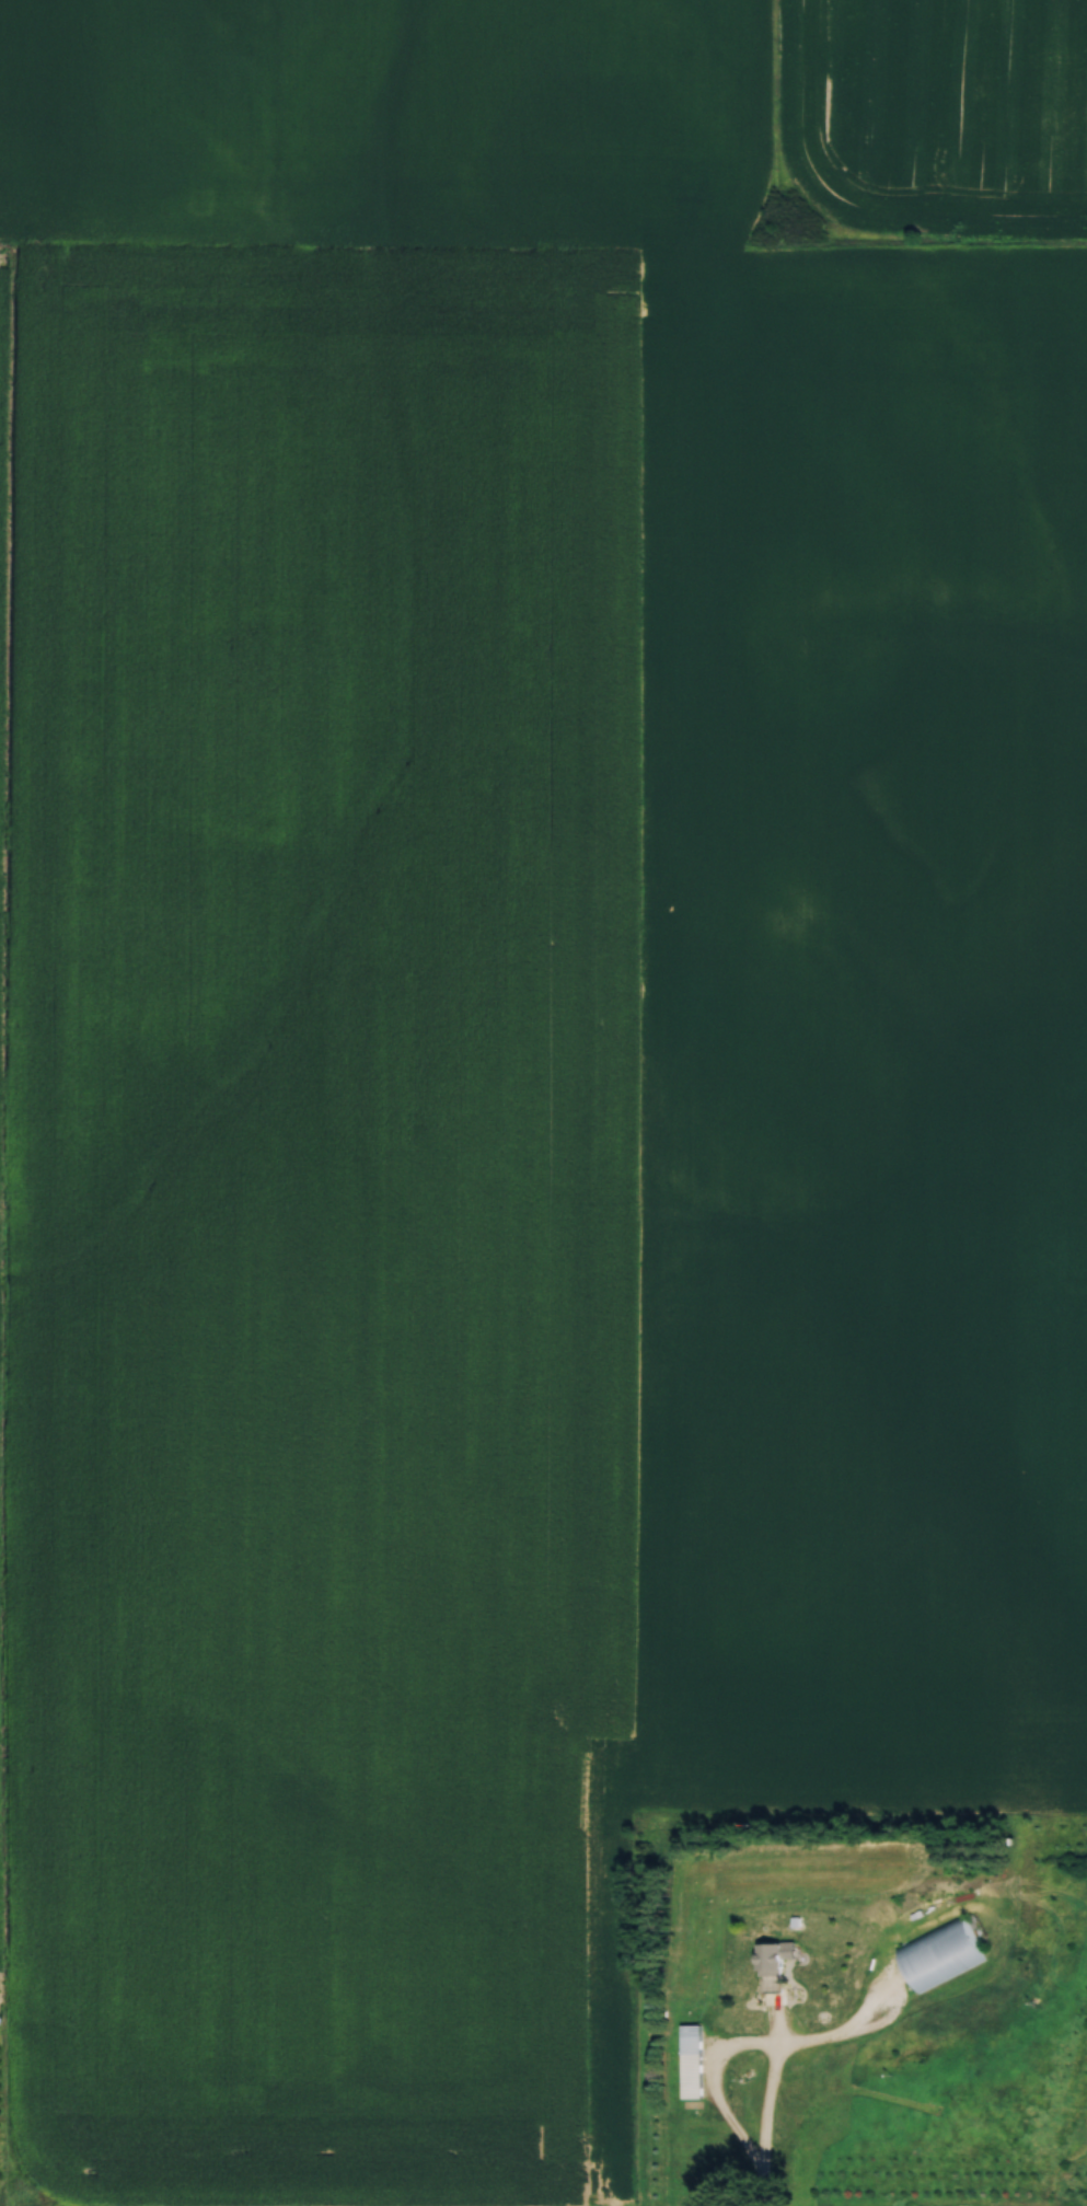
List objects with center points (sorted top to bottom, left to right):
building: (941, 1951)
building: (771, 1965)
building: (691, 2065)
building: (797, 2081)
road: (778, 2088)
road: (770, 2191)

